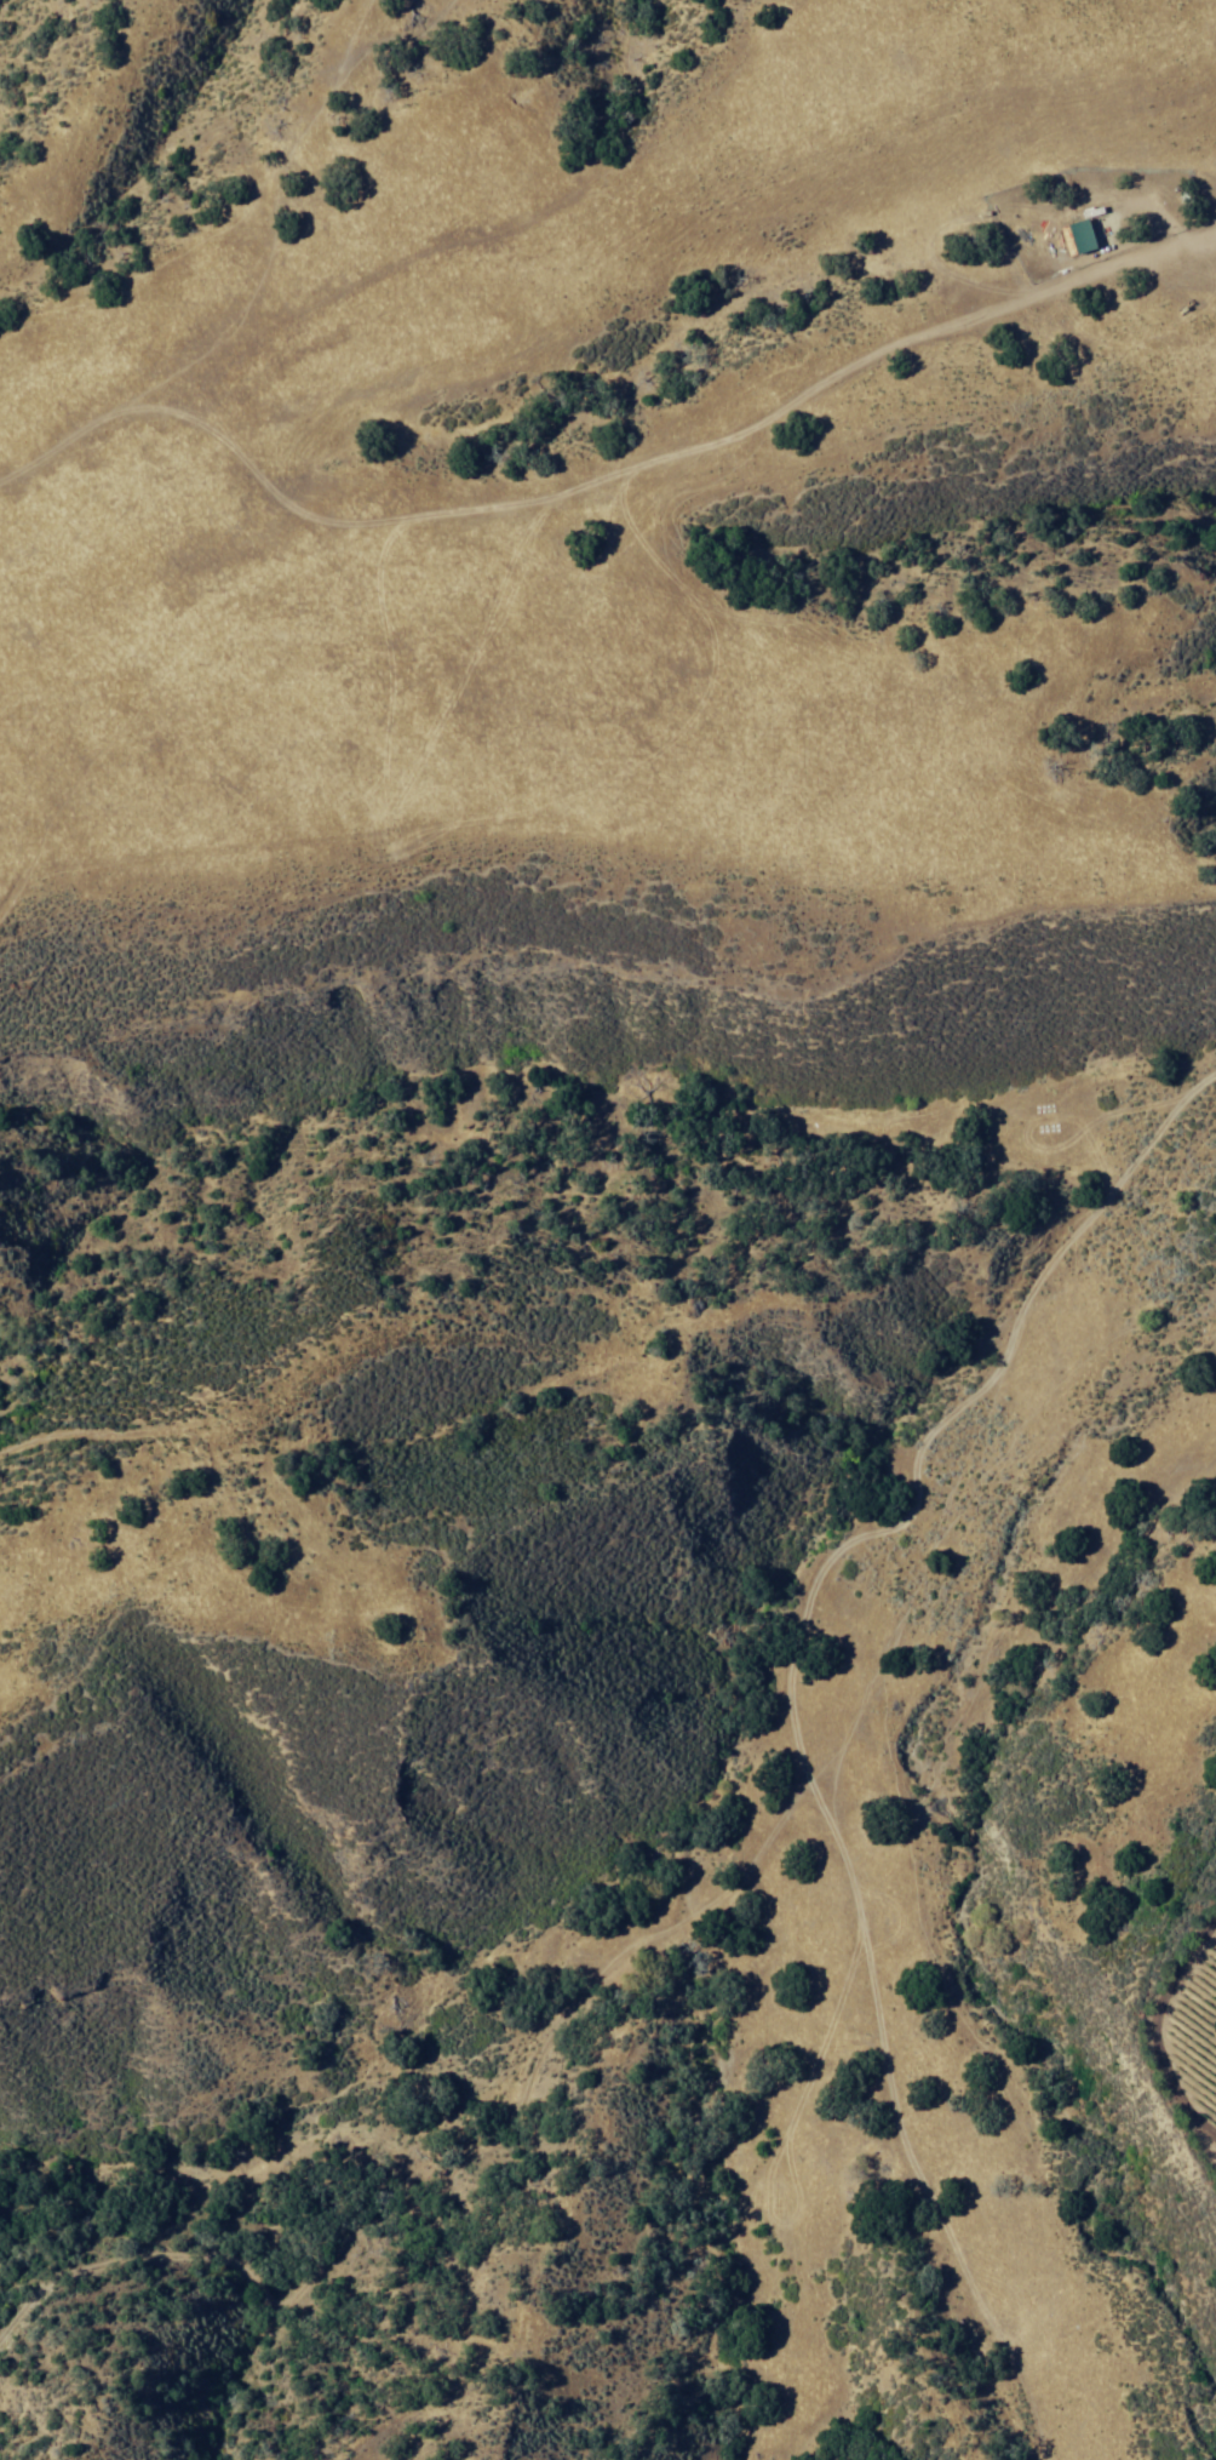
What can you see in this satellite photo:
road: (624, 475)
road: (245, 759)
road: (76, 1449)
road: (595, 1970)
crop: (1197, 2003)

